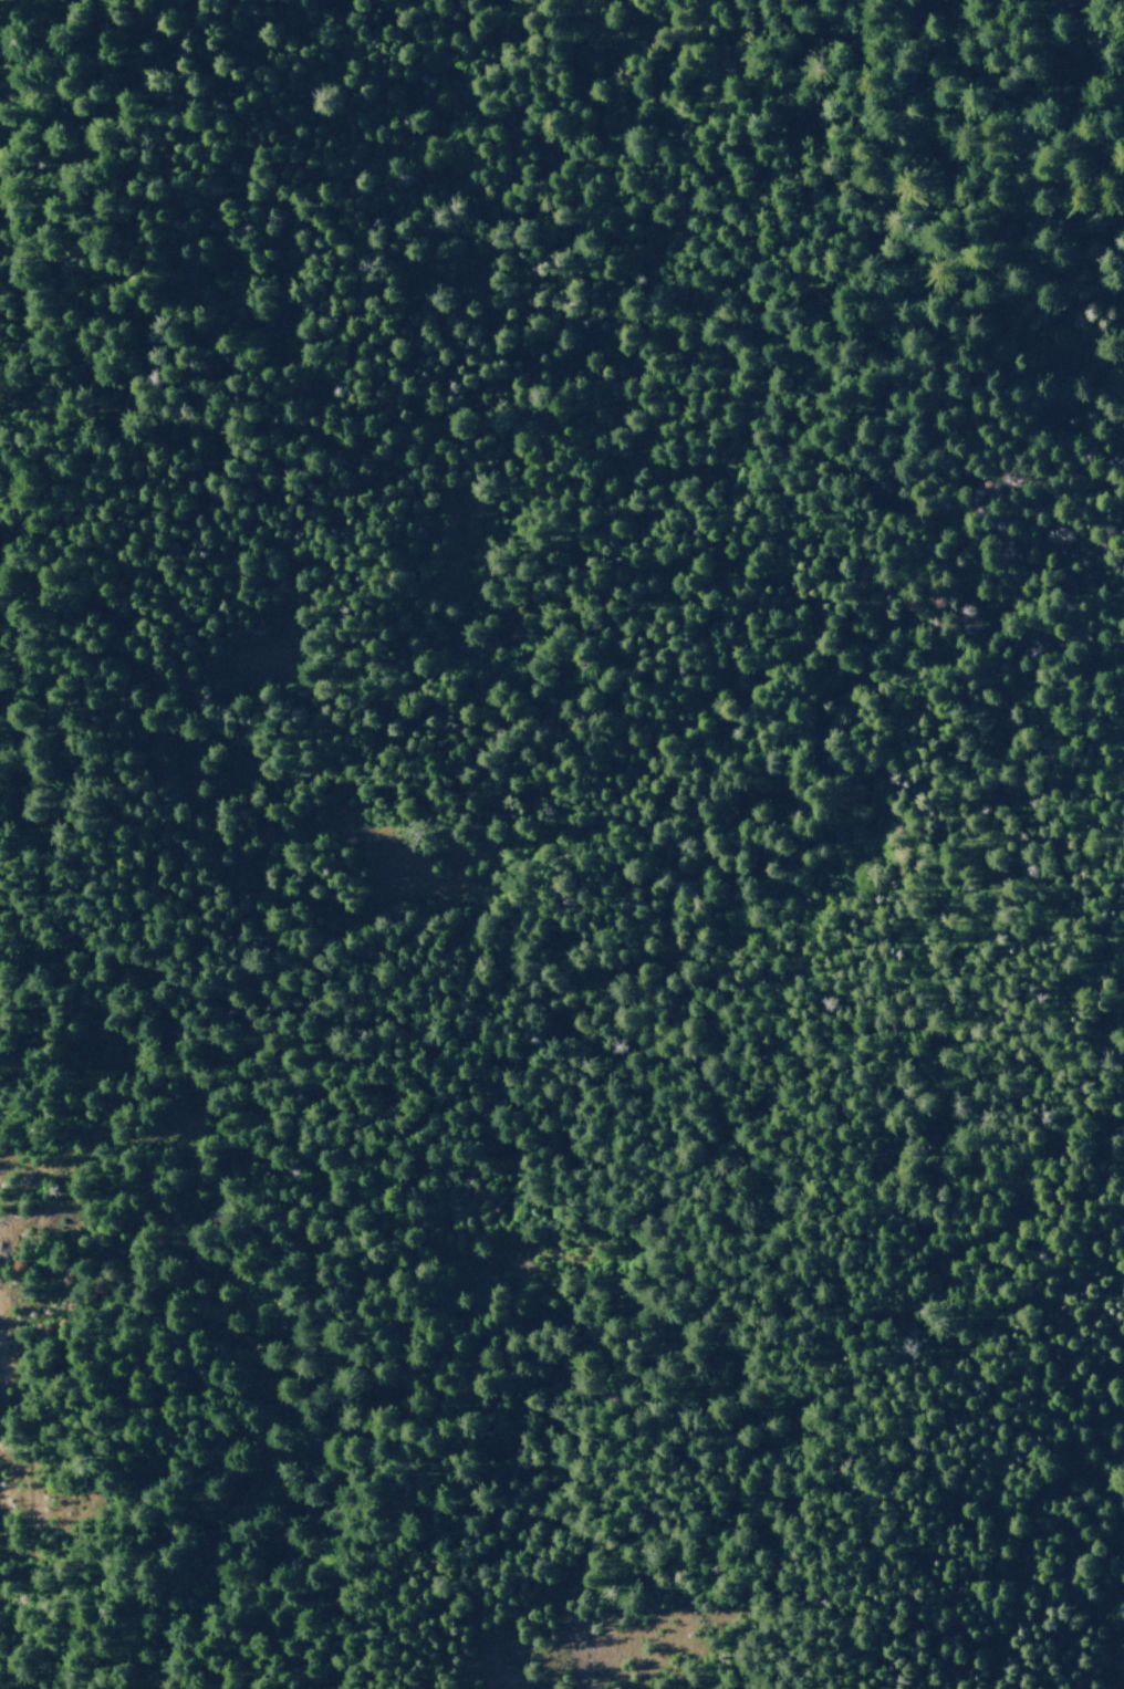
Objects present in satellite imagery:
road: (3, 209)
road: (1, 1317)
road: (3, 1430)

